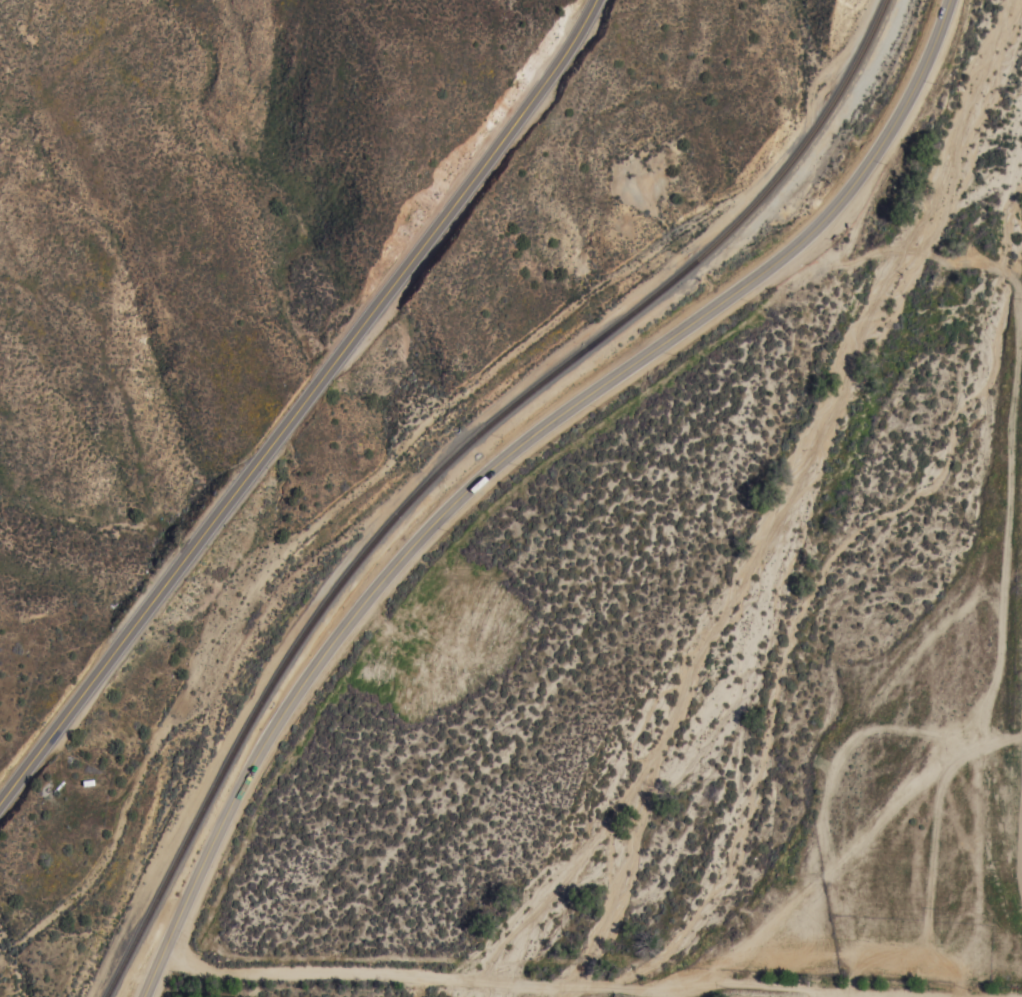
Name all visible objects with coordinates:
road: (305, 402)
road: (503, 457)
railway: (448, 458)

